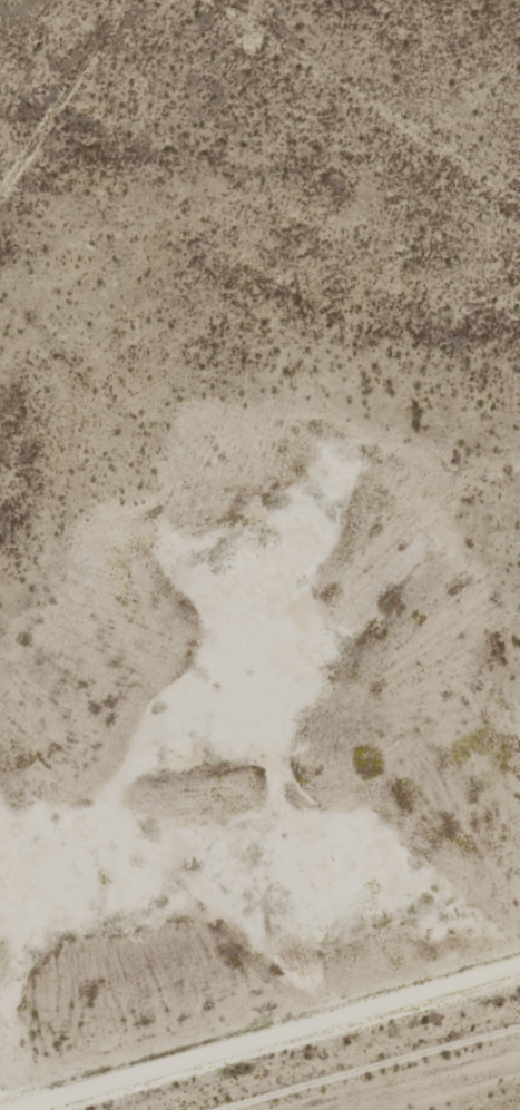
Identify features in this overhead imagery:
road: (306, 1048)

